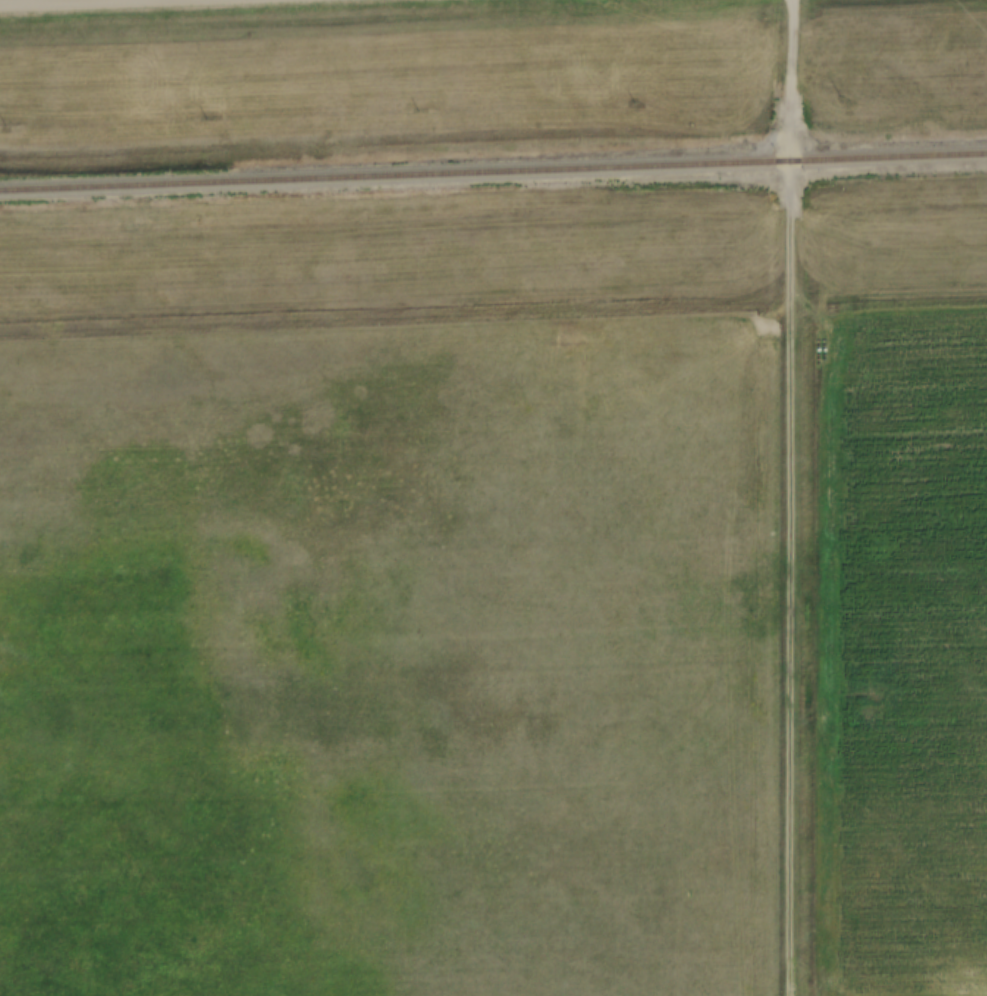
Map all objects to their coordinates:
road: (54, 2)
railway: (493, 171)
road: (395, 289)
road: (791, 497)

